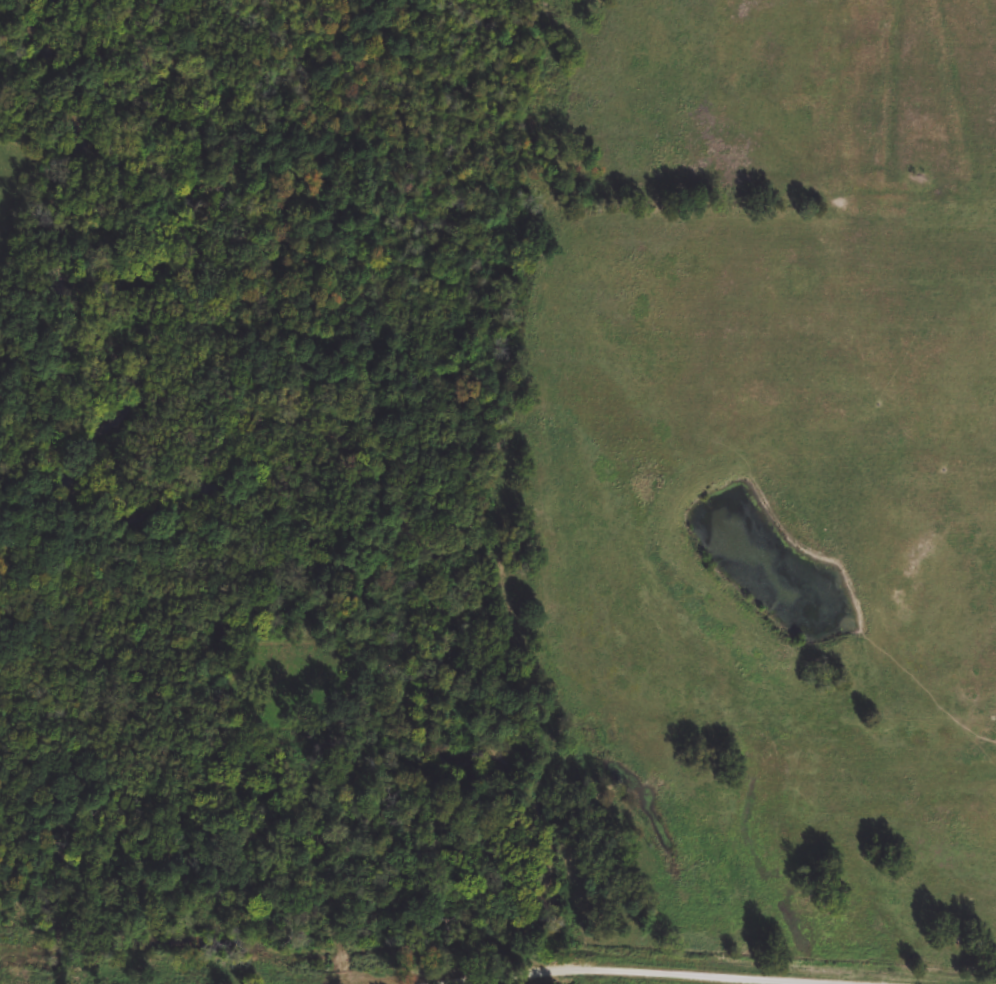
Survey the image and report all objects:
road: (617, 960)

